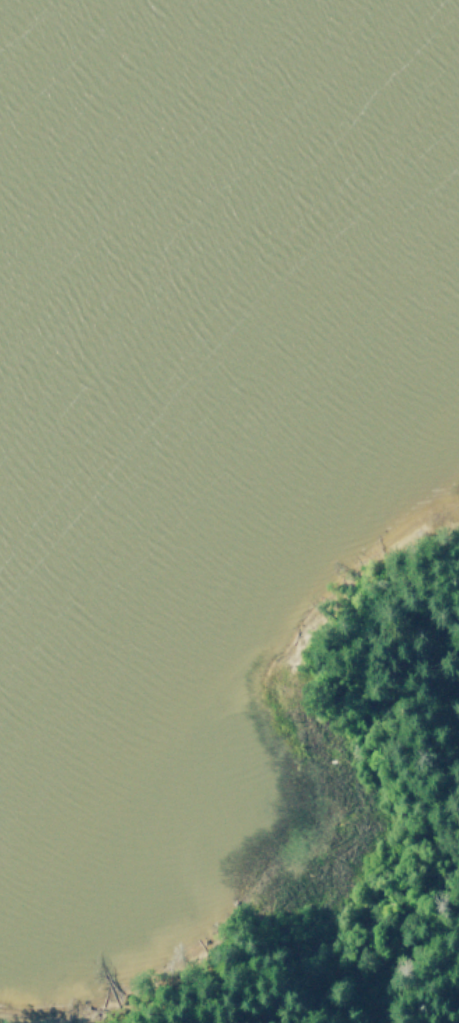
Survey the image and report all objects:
road: (376, 862)
road: (321, 977)
road: (146, 1008)

